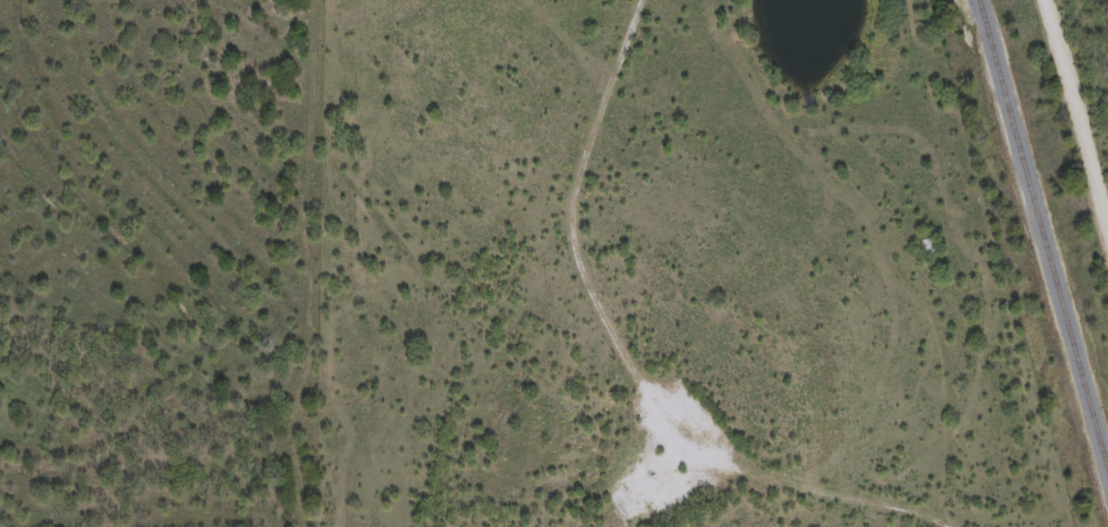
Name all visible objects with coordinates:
road: (1075, 122)
railway: (1041, 241)

